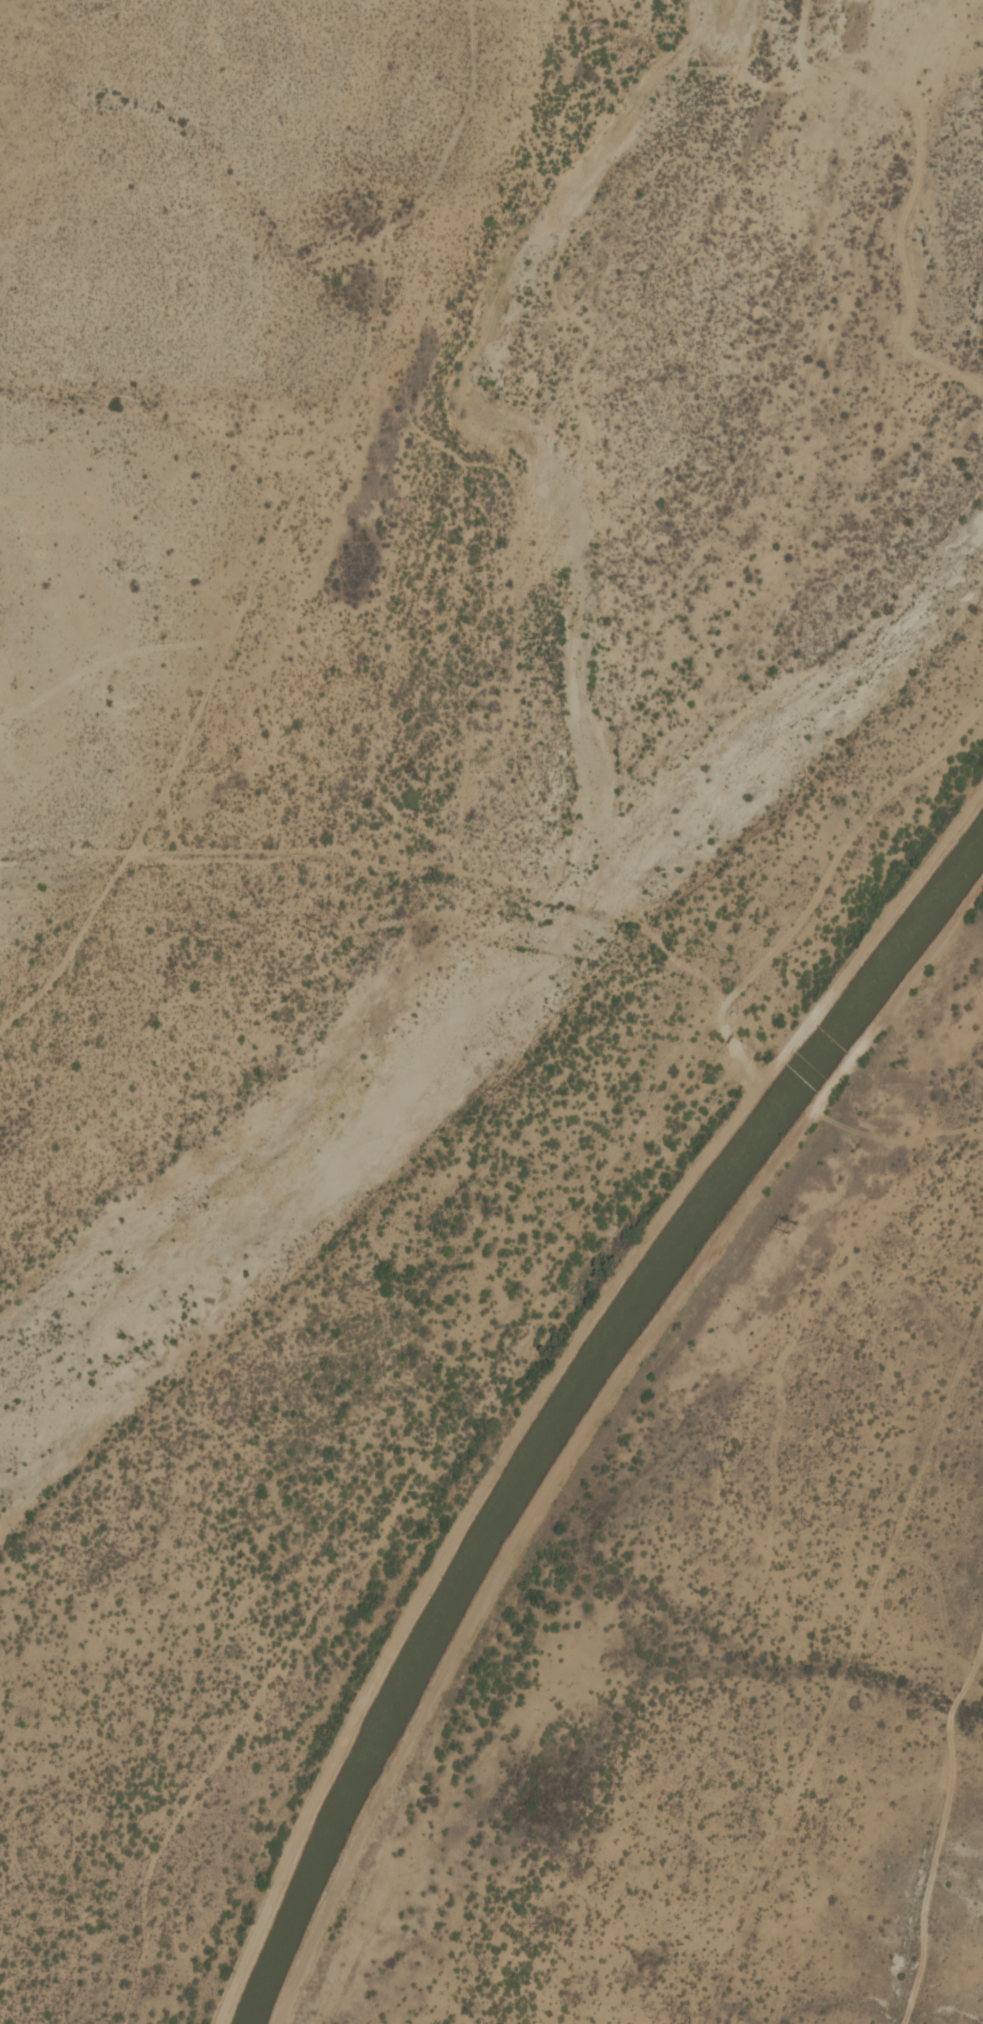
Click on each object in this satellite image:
power tower: (315, 925)
river: (527, 955)
power tower: (786, 1226)
road: (949, 1838)

